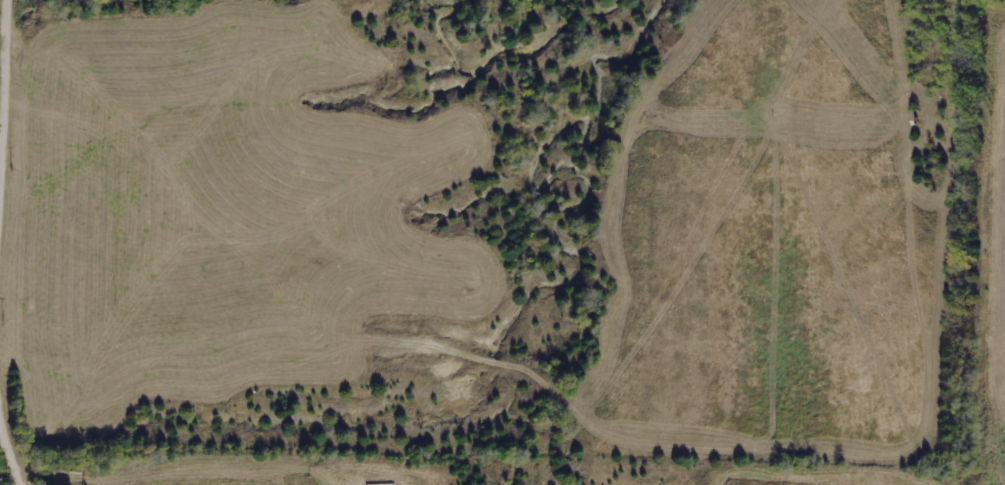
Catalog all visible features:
road: (22, 243)

